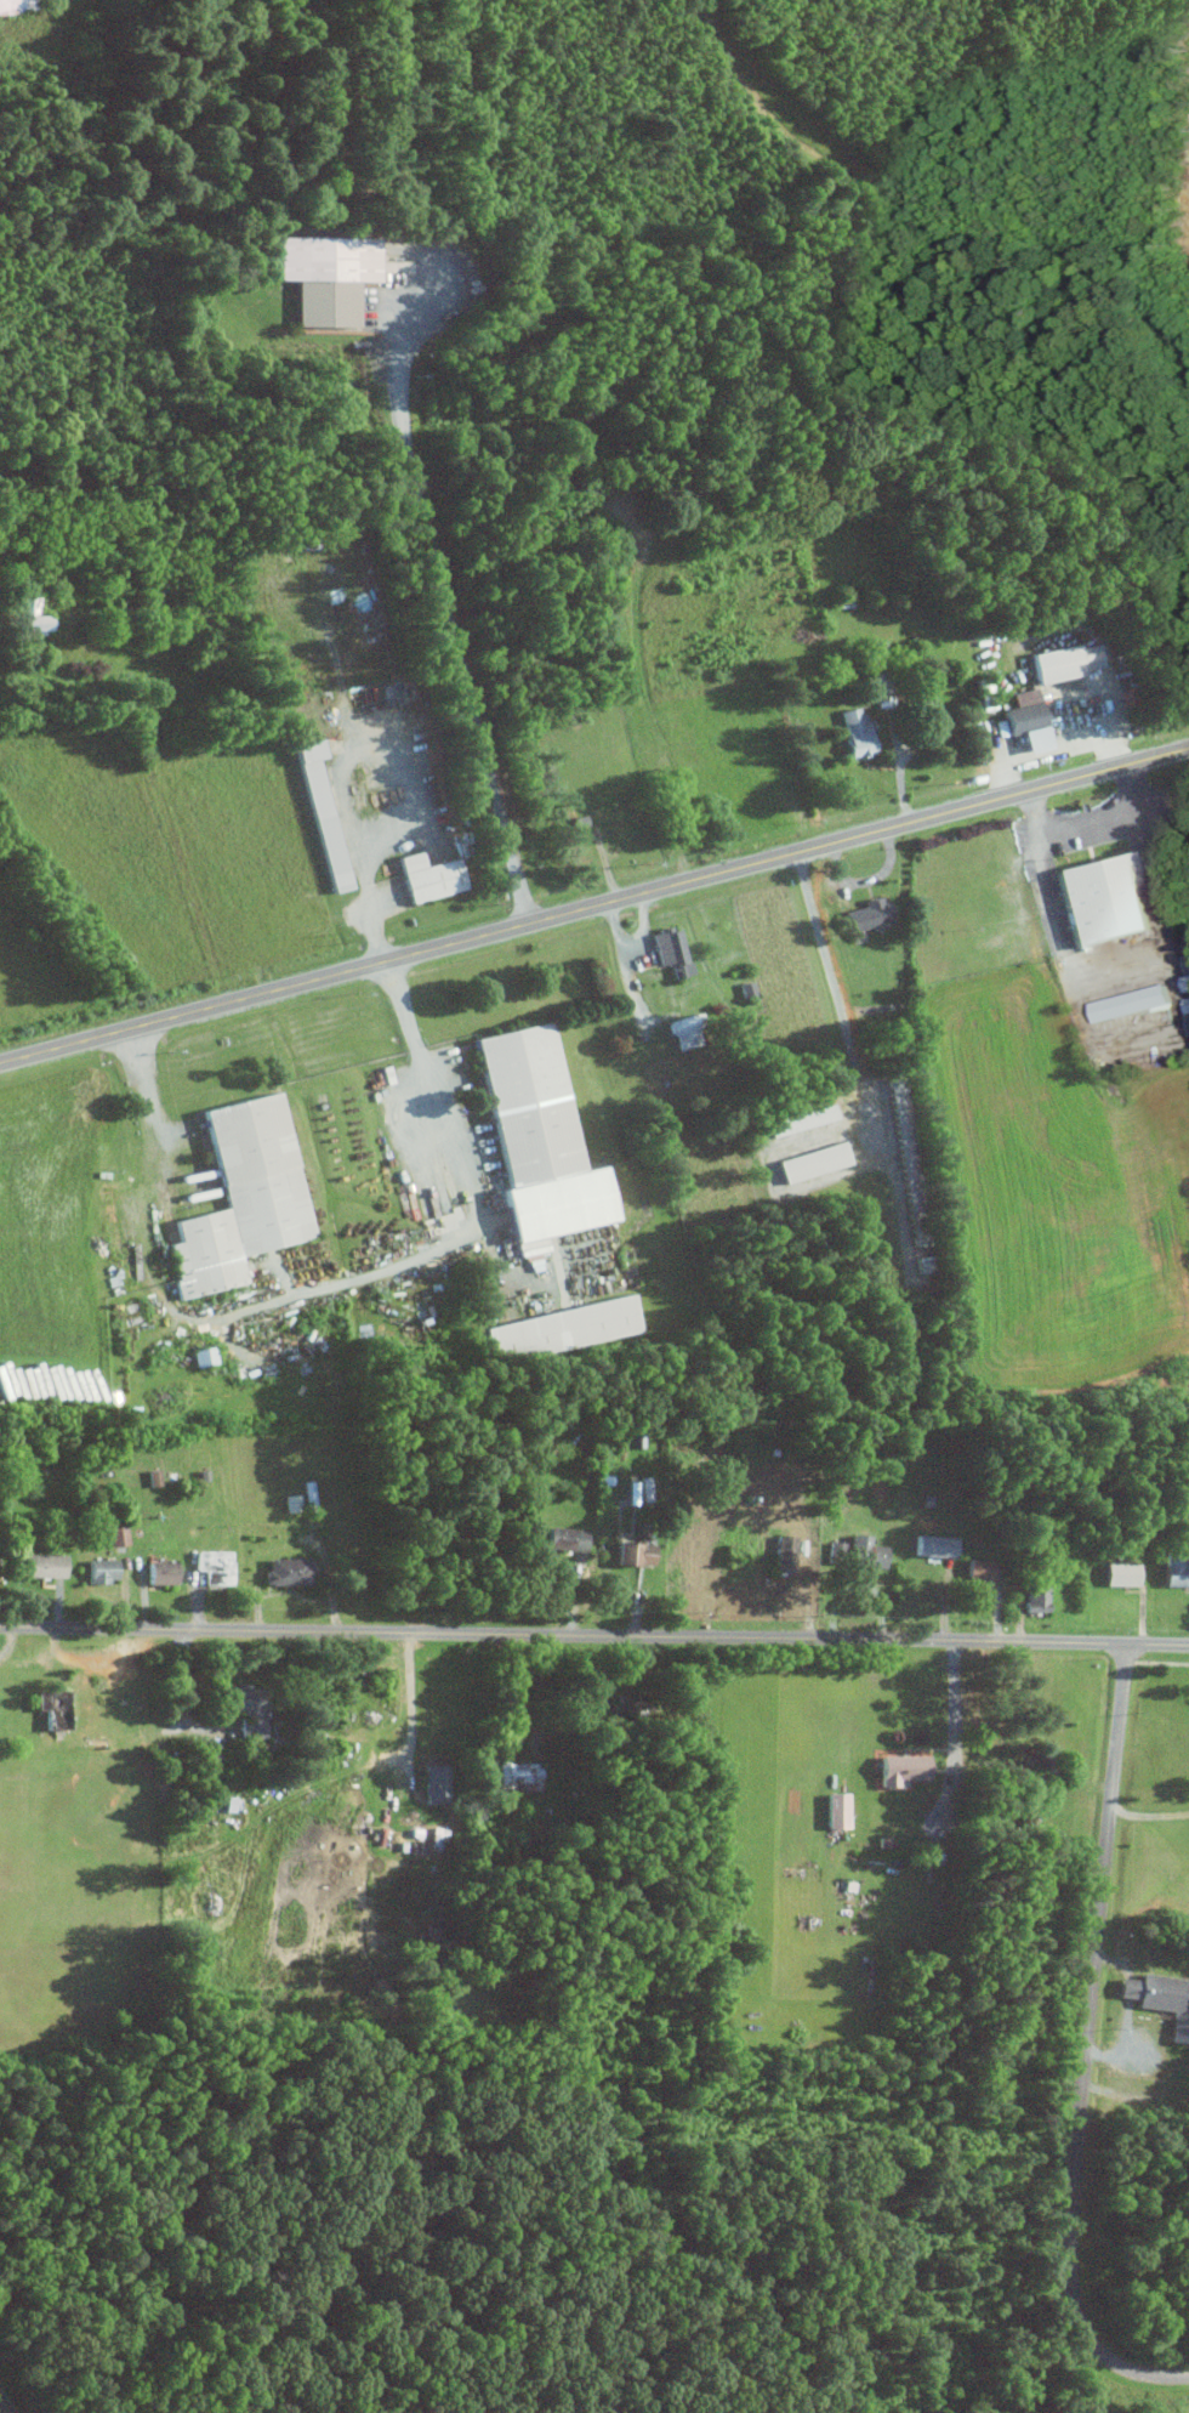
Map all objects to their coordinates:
building: (17, 6)
building: (396, 265)
building: (324, 273)
road: (448, 608)
building: (32, 615)
building: (872, 643)
building: (874, 660)
building: (1065, 662)
building: (884, 689)
road: (1115, 702)
building: (1022, 710)
building: (855, 732)
road: (1058, 749)
road: (343, 762)
road: (906, 799)
building: (318, 813)
building: (575, 821)
road: (1091, 821)
building: (428, 878)
road: (1149, 879)
road: (866, 880)
building: (1100, 898)
road: (593, 905)
building: (869, 915)
road: (633, 943)
building: (667, 944)
building: (684, 967)
road: (832, 973)
building: (1185, 973)
road: (631, 976)
building: (1130, 1001)
building: (1185, 1003)
building: (1188, 1017)
building: (687, 1031)
road: (1115, 1046)
road: (148, 1088)
building: (803, 1120)
building: (534, 1135)
building: (909, 1159)
building: (814, 1162)
road: (468, 1188)
building: (246, 1197)
building: (531, 1245)
building: (923, 1265)
building: (557, 1328)
building: (204, 1356)
building: (925, 1499)
building: (292, 1501)
building: (119, 1534)
building: (564, 1537)
building: (934, 1543)
building: (836, 1550)
building: (865, 1550)
building: (633, 1551)
building: (784, 1552)
building: (735, 1554)
building: (49, 1563)
building: (220, 1565)
building: (979, 1566)
building: (1174, 1567)
building: (107, 1568)
building: (292, 1569)
building: (167, 1572)
building: (1121, 1572)
building: (1037, 1591)
road: (477, 1631)
road: (1070, 1642)
building: (59, 1707)
building: (252, 1707)
road: (411, 1708)
road: (954, 1709)
building: (901, 1766)
building: (517, 1776)
building: (433, 1783)
building: (836, 1807)
road: (1148, 1813)
building: (883, 1840)
building: (1162, 1997)
road: (1087, 2049)
road: (1, 2409)

